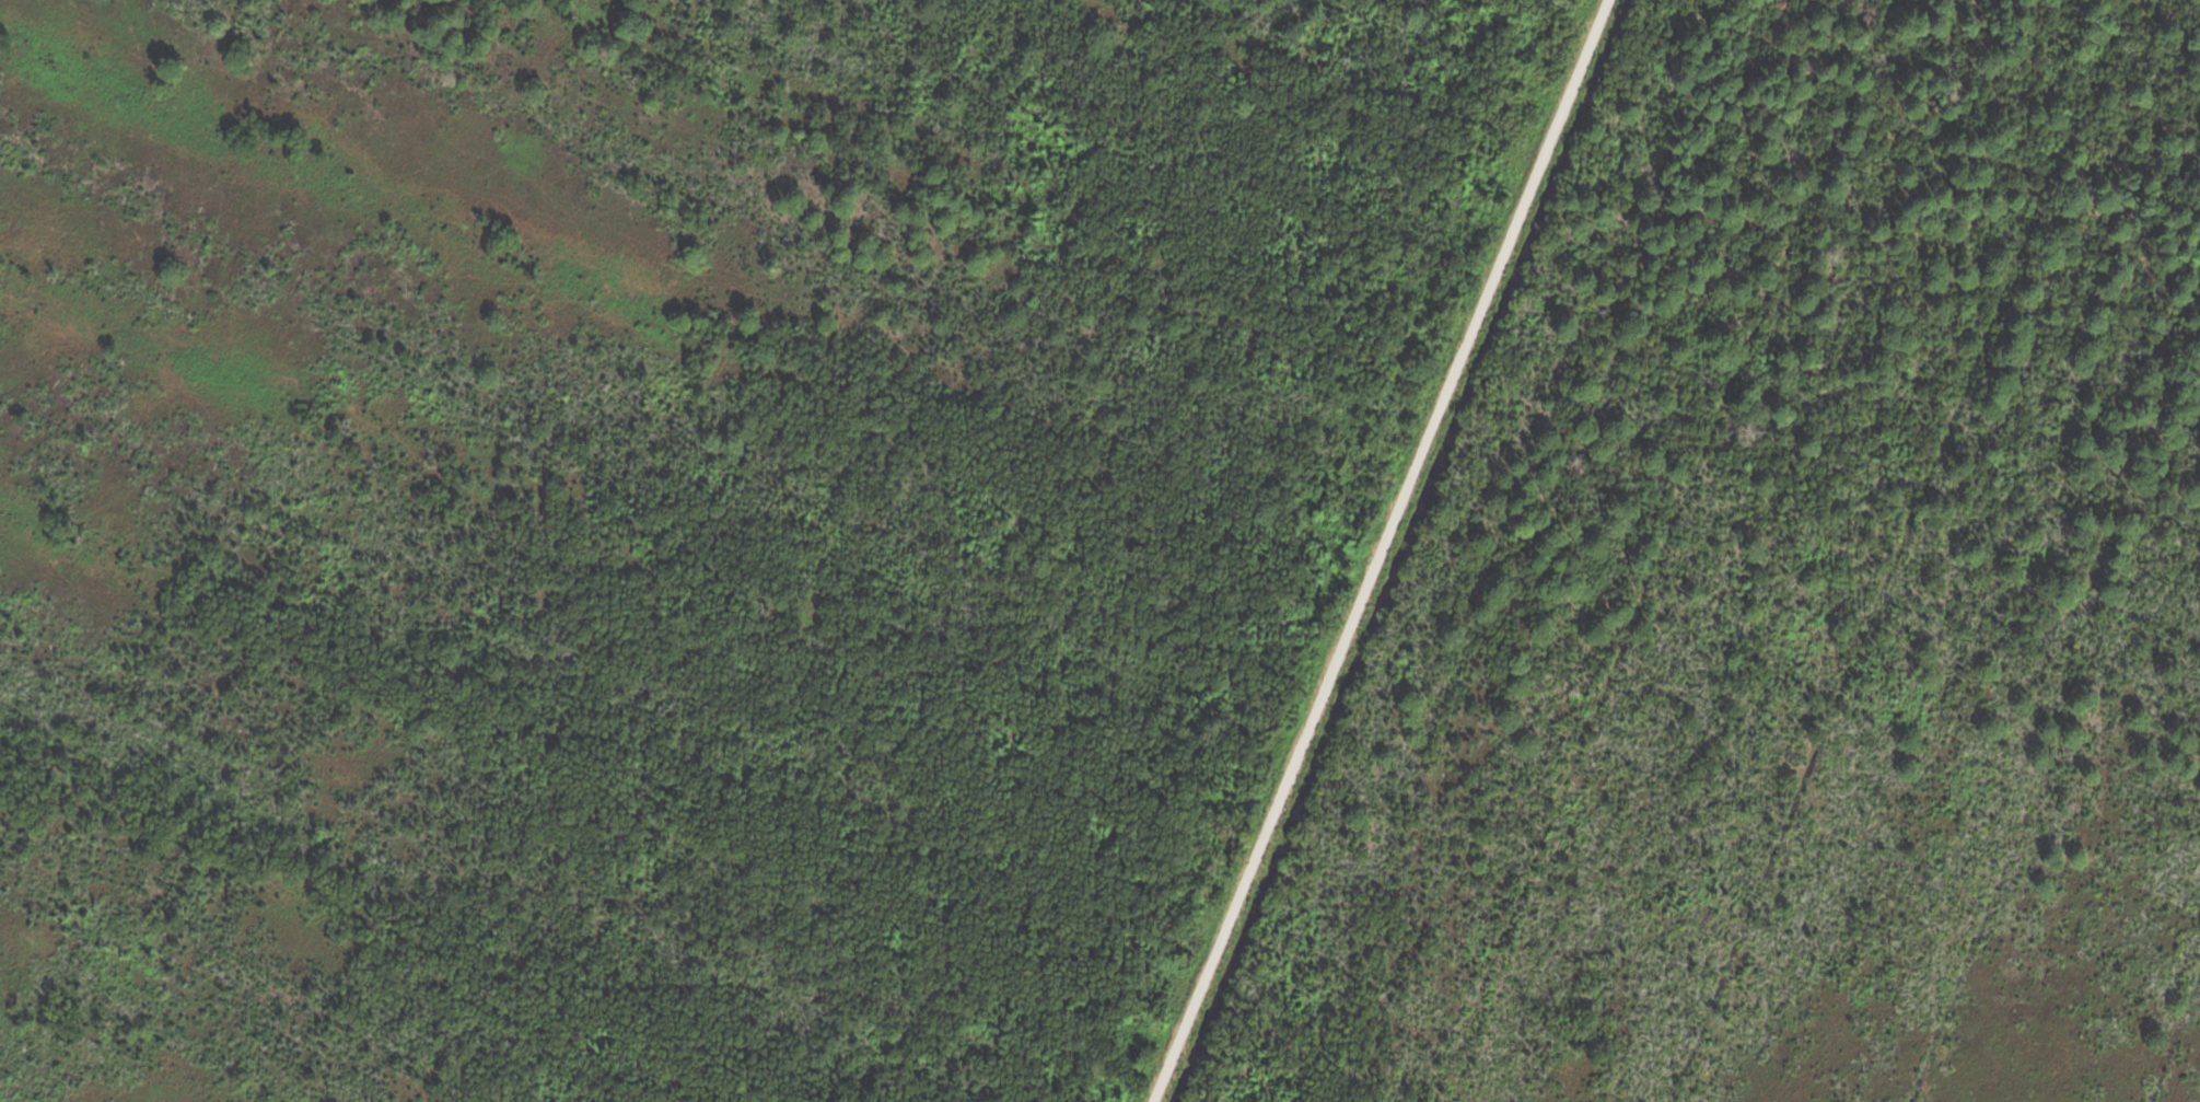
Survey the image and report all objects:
road: (1381, 550)

